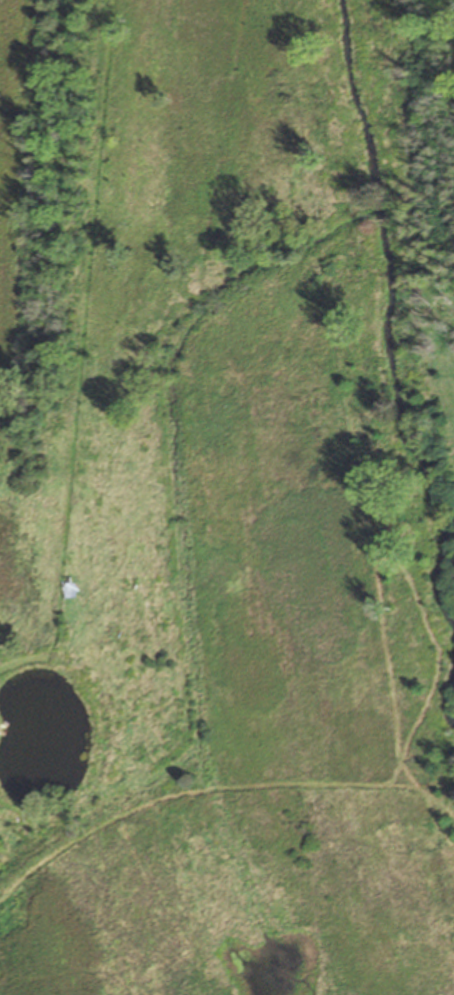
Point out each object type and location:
building: (71, 591)

